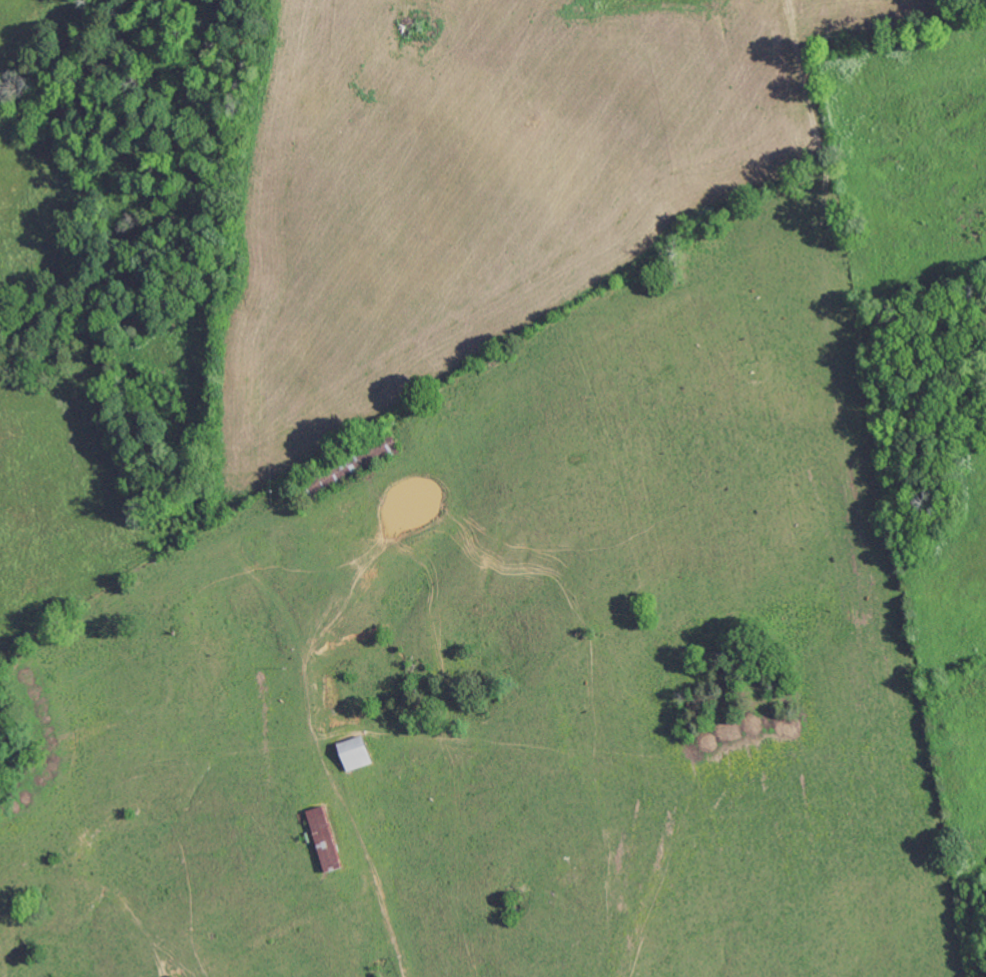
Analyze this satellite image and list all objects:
building: (351, 753)
road: (284, 789)
building: (320, 838)

